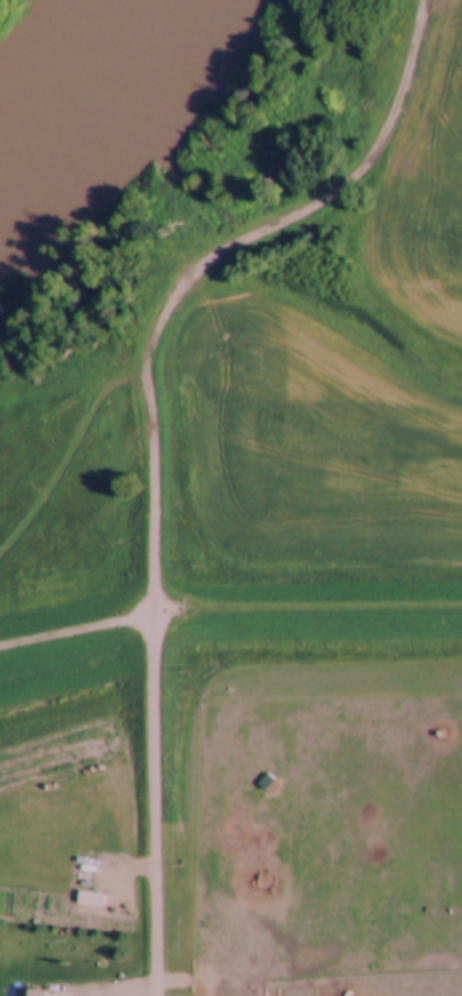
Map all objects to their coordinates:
river: (86, 93)
road: (208, 262)
road: (308, 611)
road: (157, 801)
building: (29, 991)

